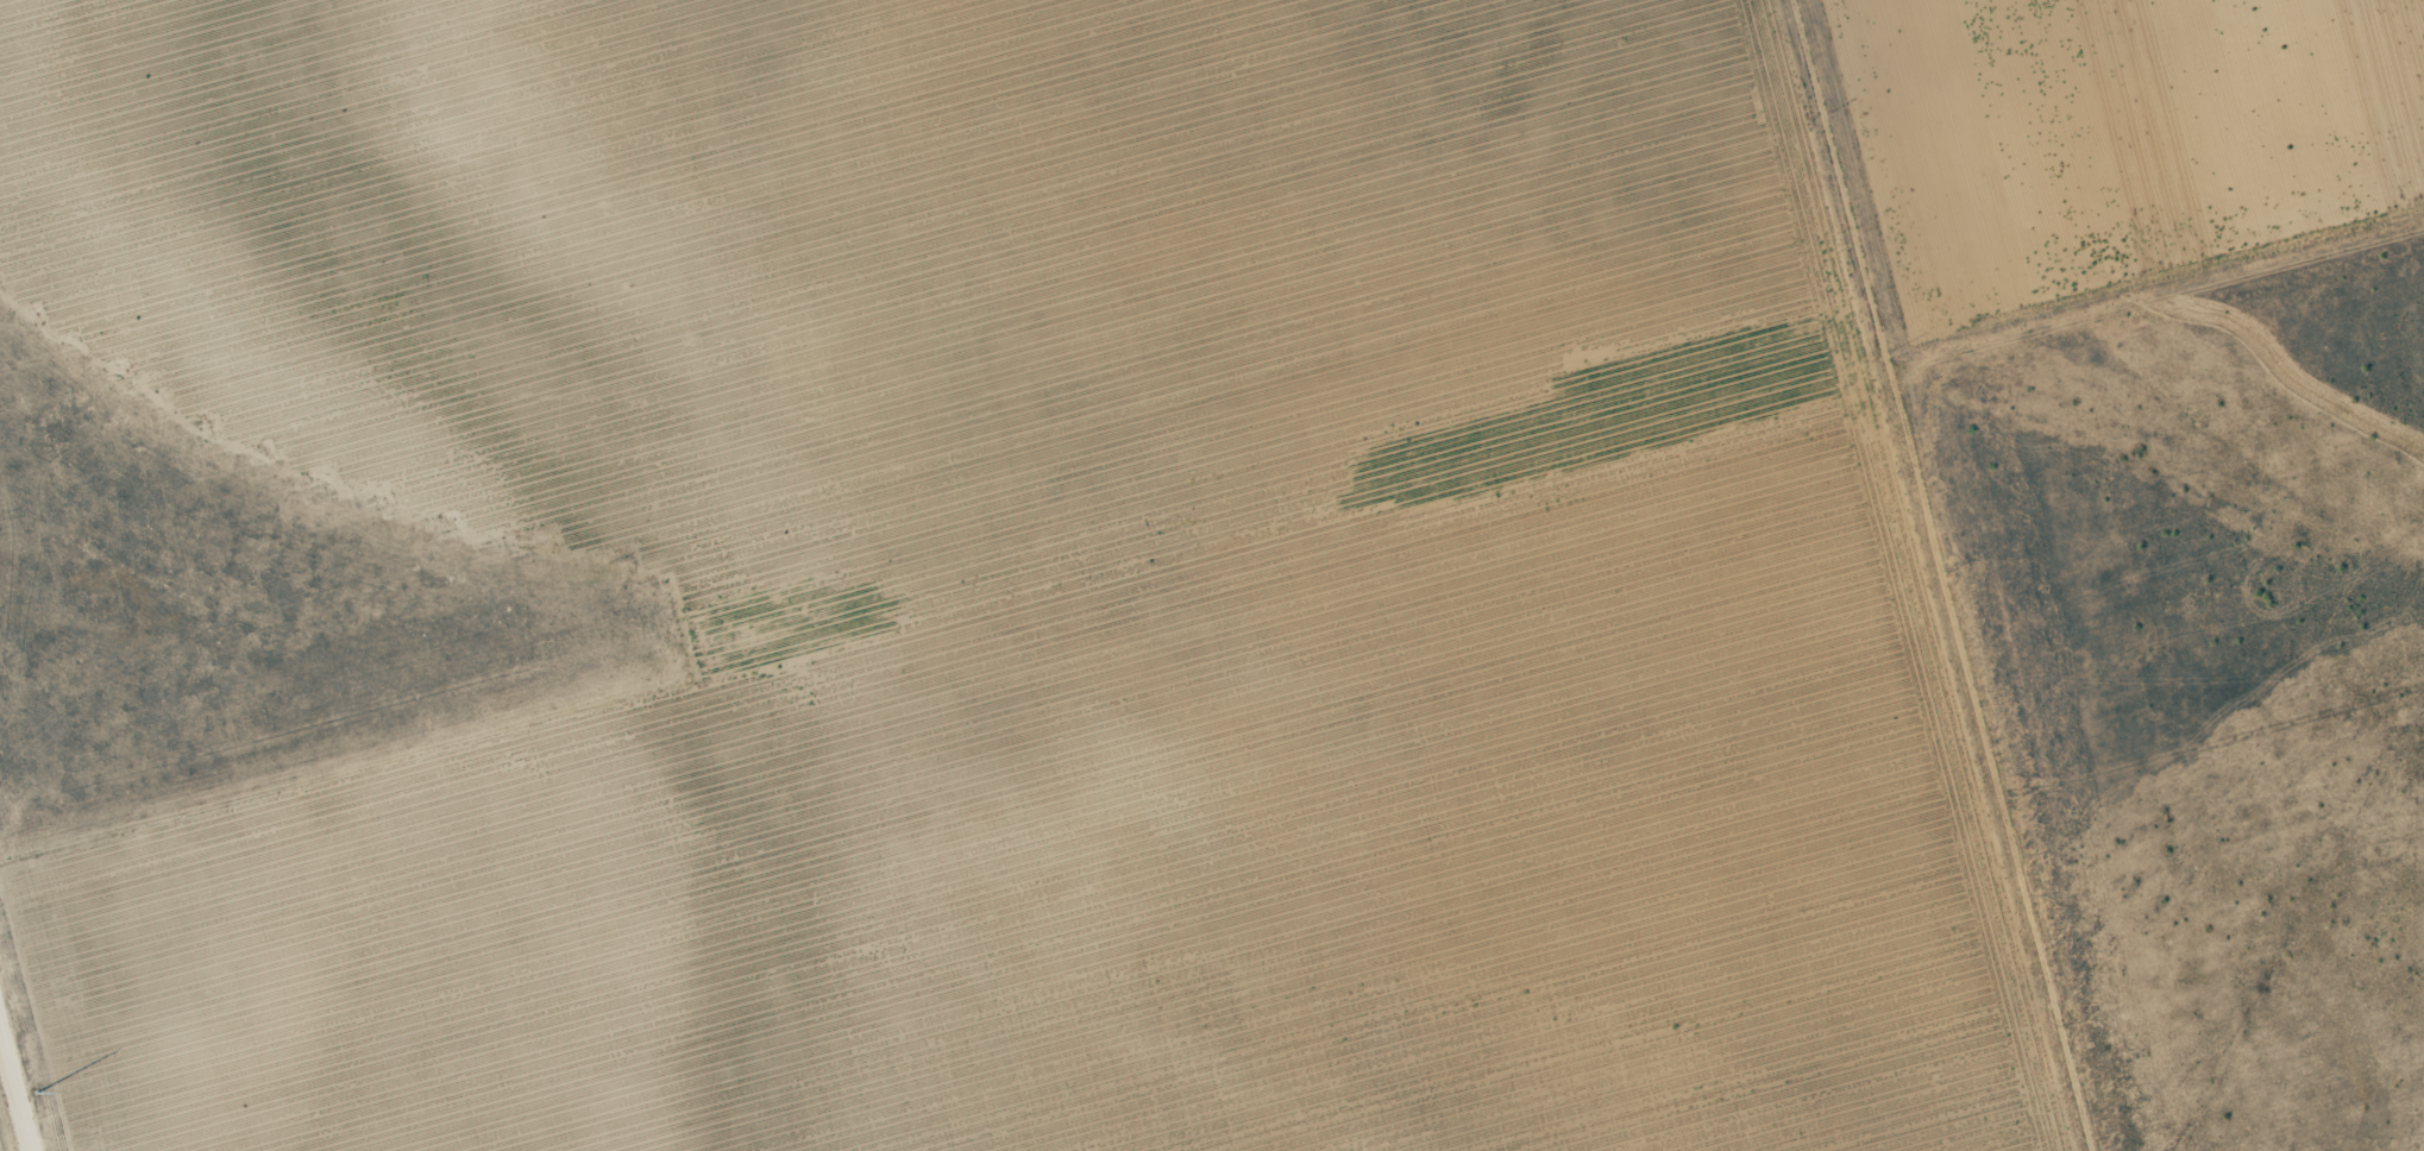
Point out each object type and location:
road: (14, 1094)

